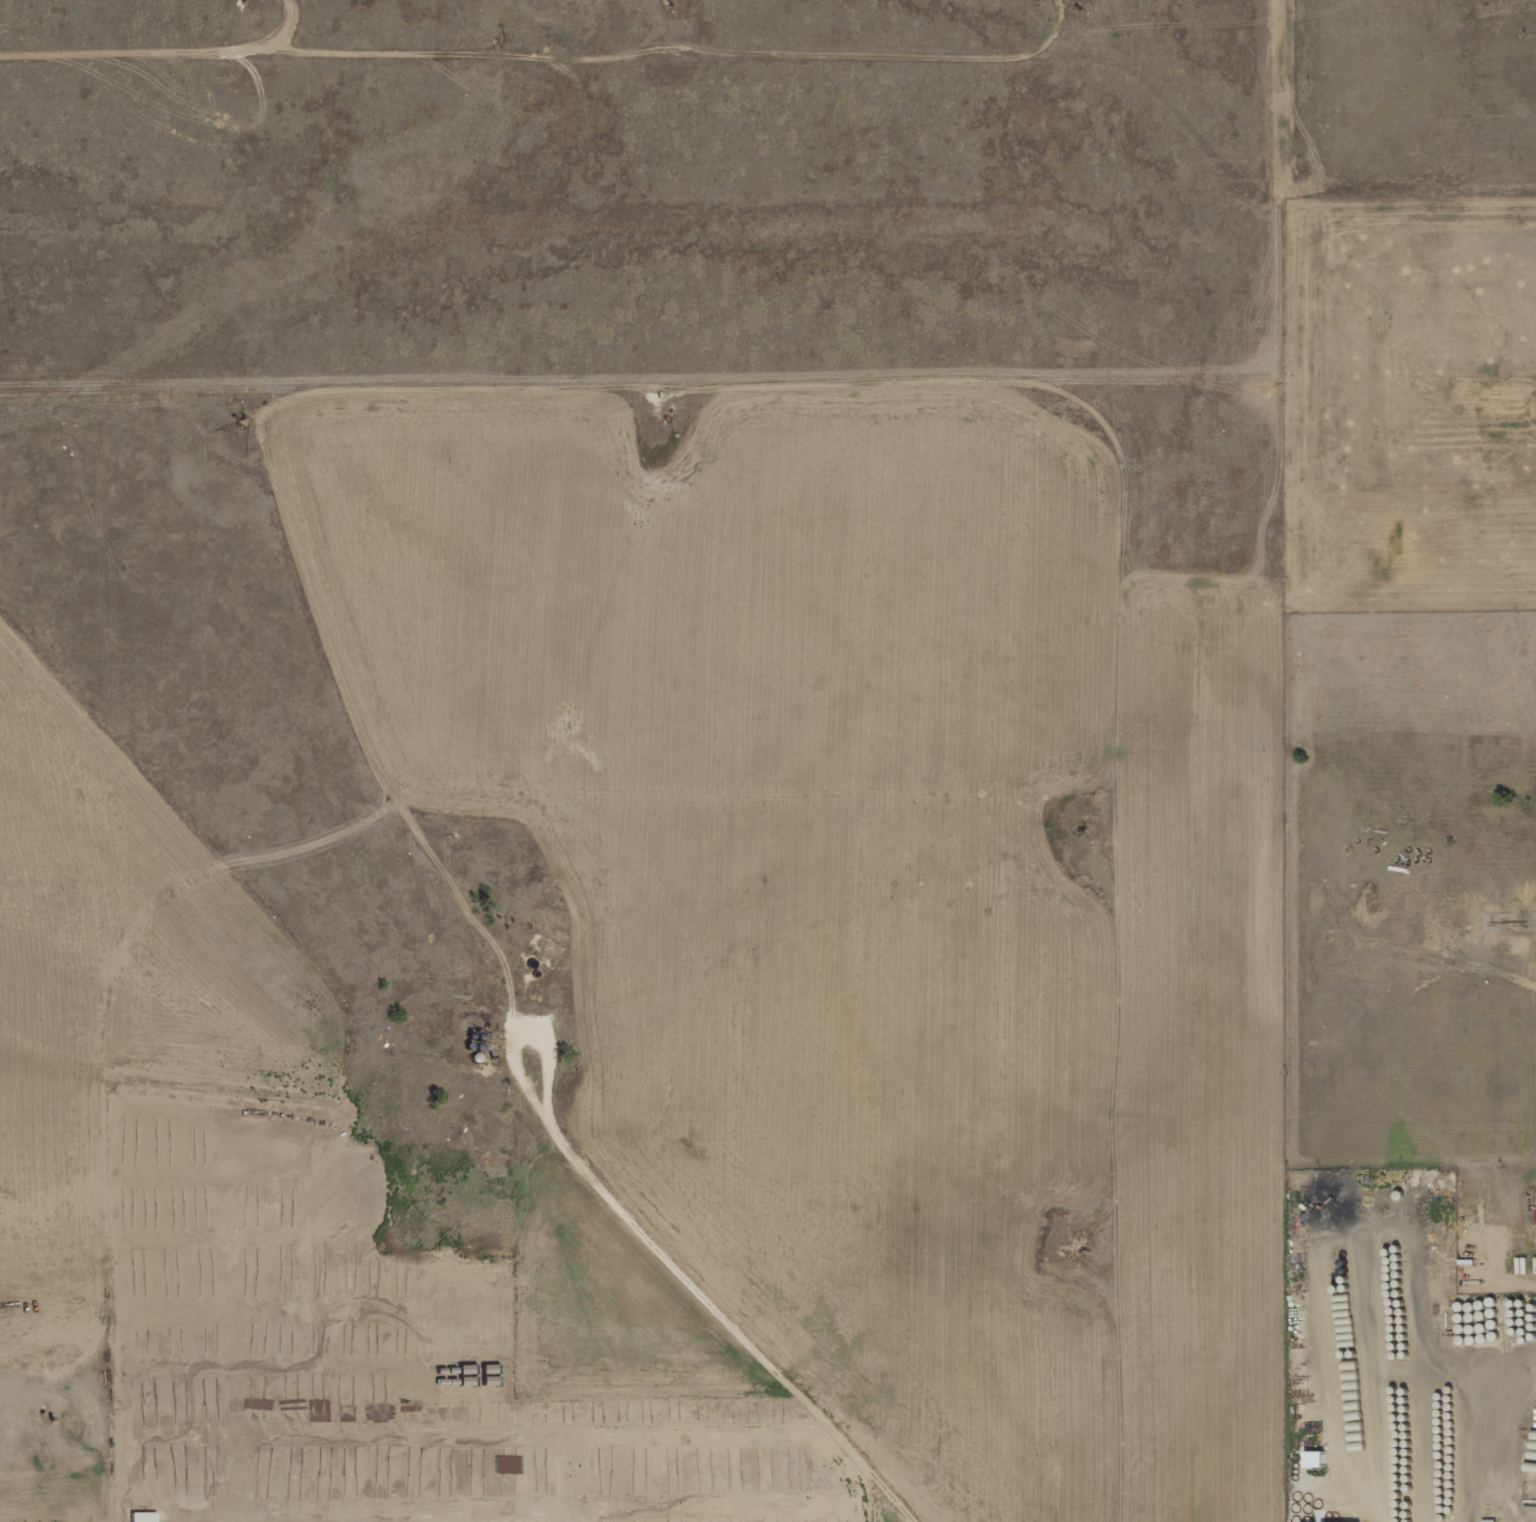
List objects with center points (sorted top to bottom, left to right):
road: (696, 1277)
building: (145, 1516)

